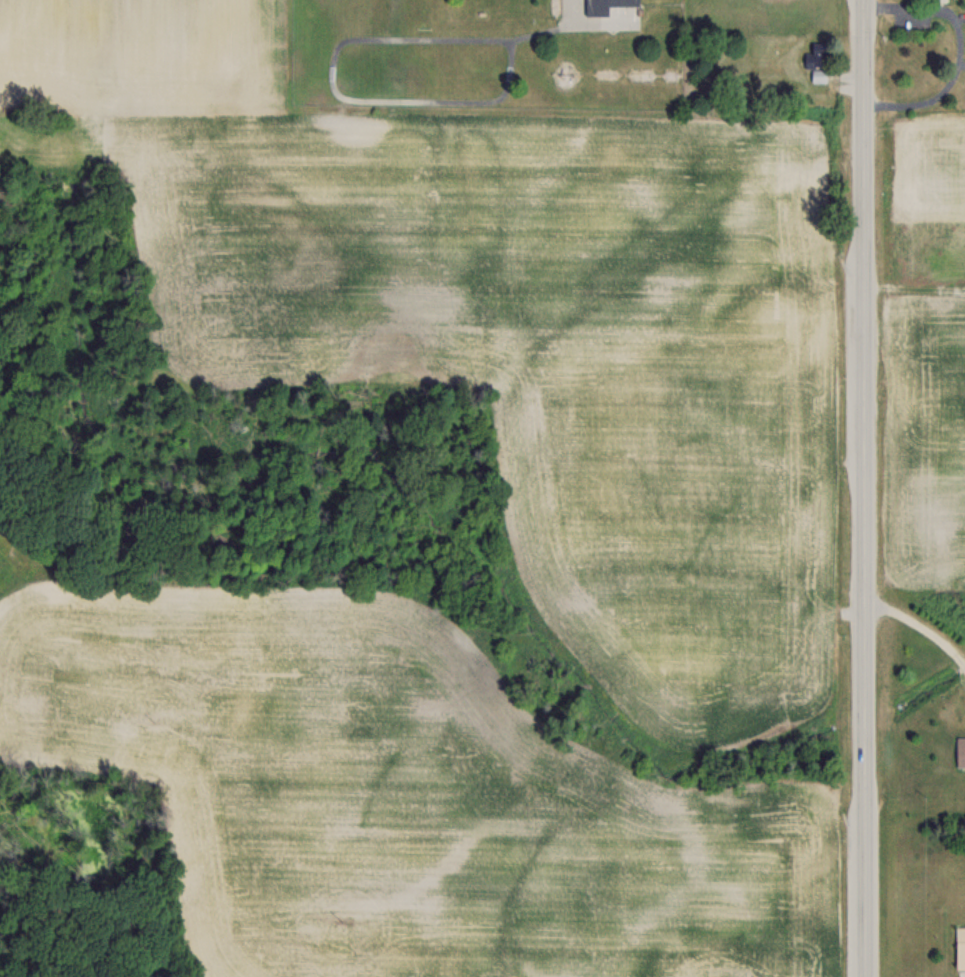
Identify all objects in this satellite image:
building: (603, 5)
road: (957, 49)
building: (816, 61)
road: (866, 488)
road: (921, 626)
building: (959, 754)
building: (960, 947)

